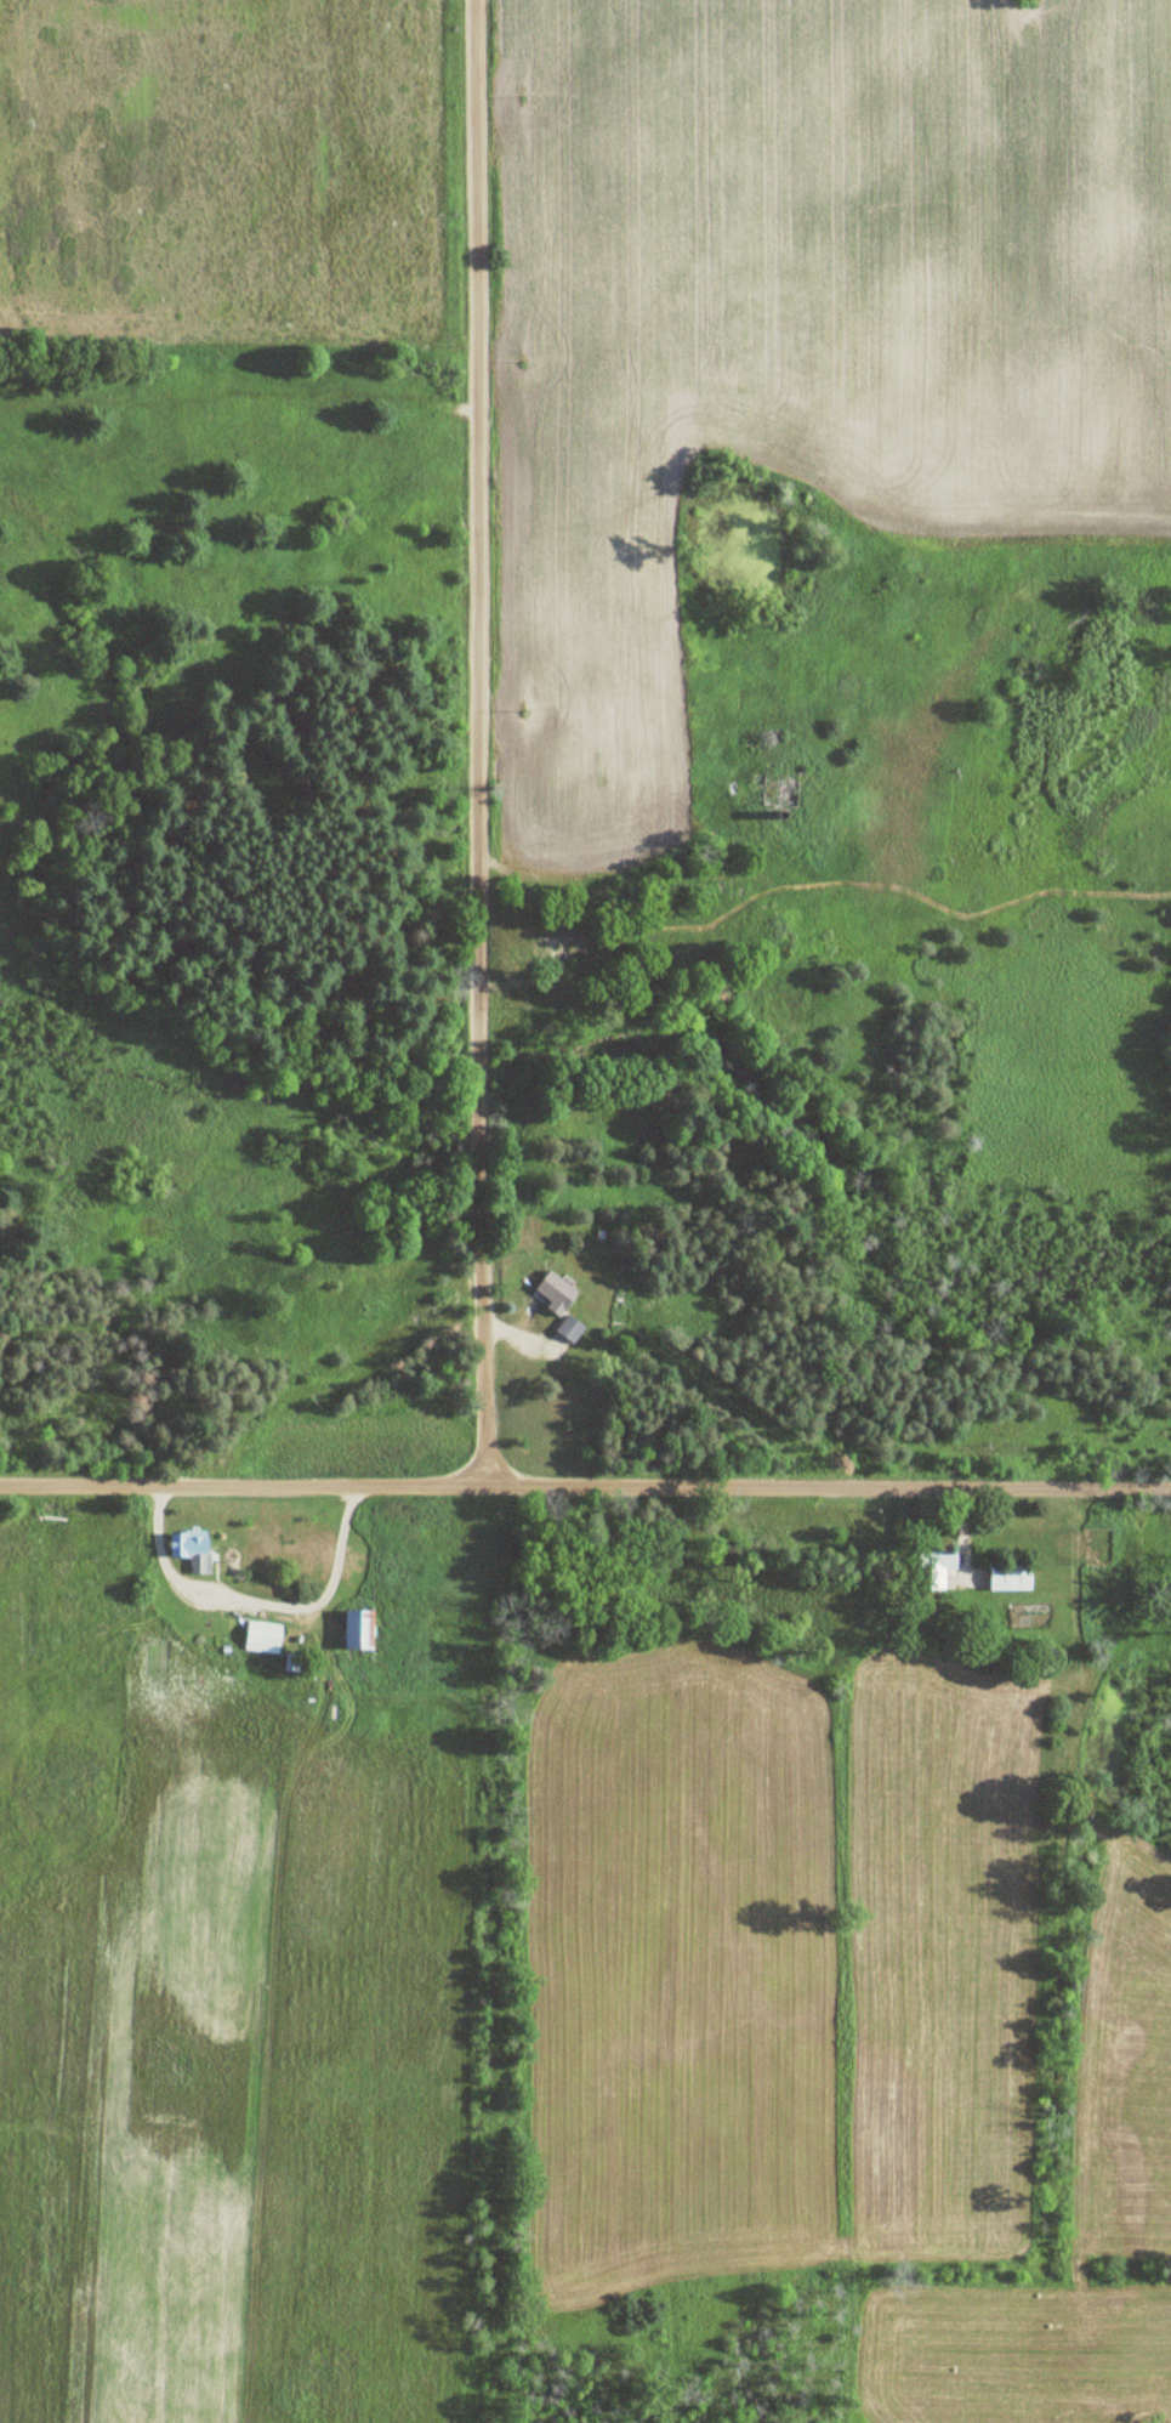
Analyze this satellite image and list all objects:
building: (757, 738)
road: (483, 743)
building: (558, 951)
building: (557, 1292)
building: (572, 1330)
road: (585, 1486)
building: (194, 1553)
building: (943, 1566)
building: (1012, 1578)
road: (248, 1601)
building: (364, 1632)
road: (493, 1952)

